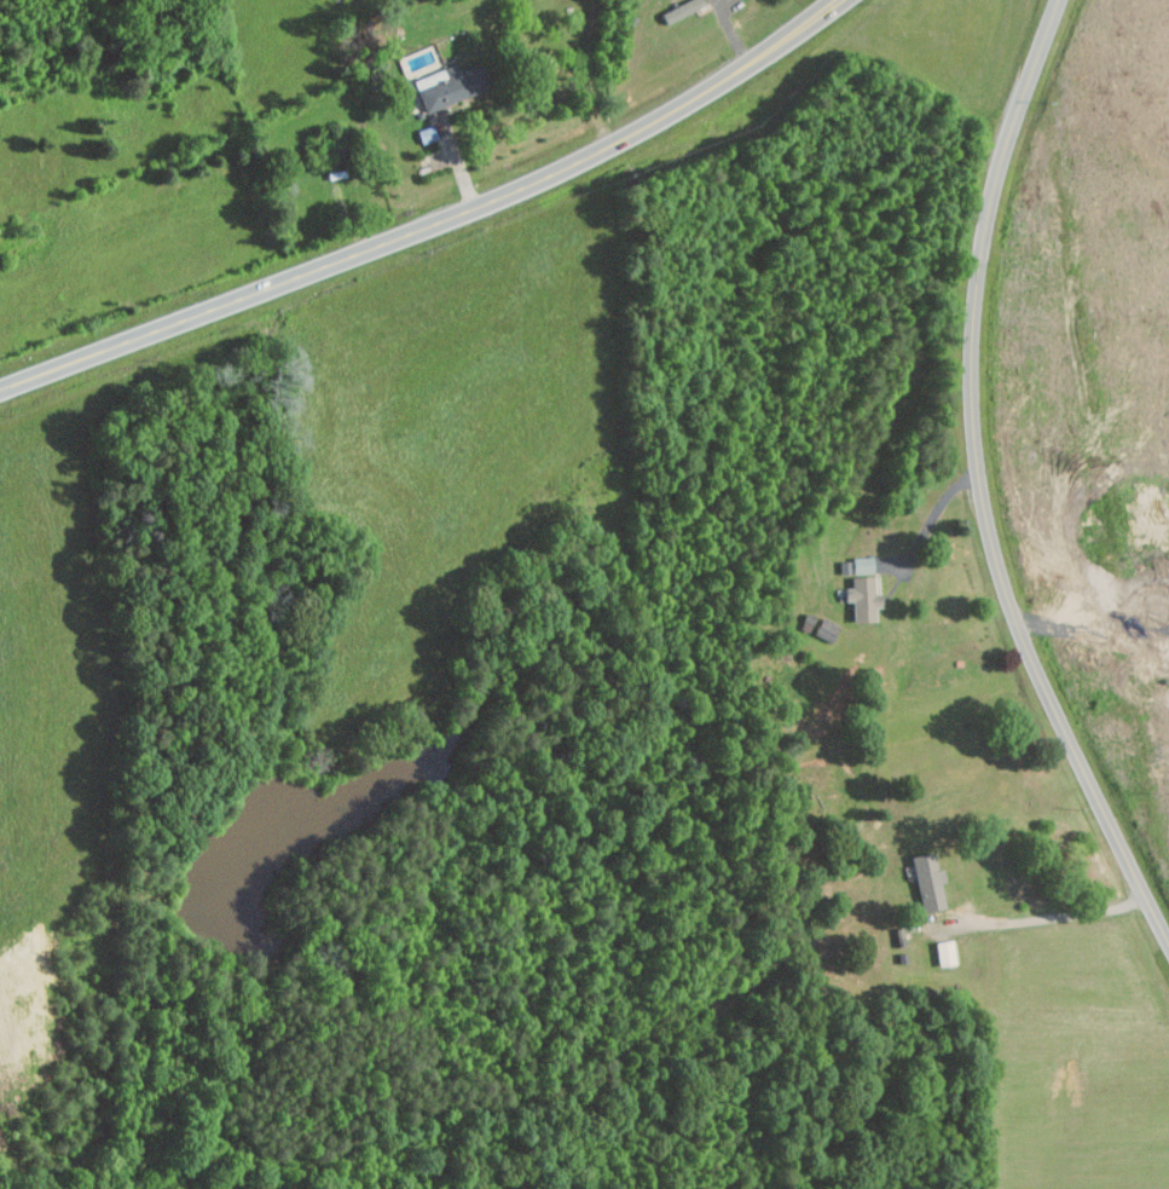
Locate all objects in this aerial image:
building: (679, 8)
building: (447, 85)
road: (433, 223)
road: (982, 483)
road: (931, 520)
building: (860, 589)
building: (824, 629)
building: (925, 881)
road: (1048, 916)
building: (943, 953)

